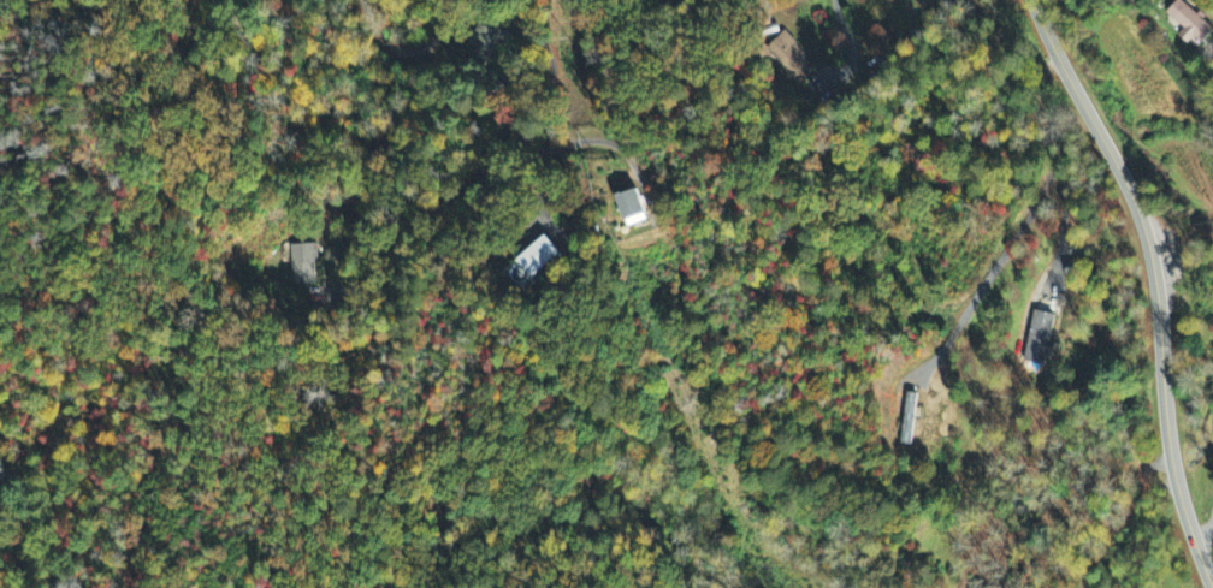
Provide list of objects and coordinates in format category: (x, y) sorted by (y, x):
building: (1189, 24)
building: (484, 37)
road: (406, 52)
building: (789, 59)
park: (215, 129)
road: (1045, 188)
building: (633, 209)
building: (537, 259)
building: (302, 265)
road: (1155, 283)
building: (1039, 339)
building: (909, 420)
road: (1207, 530)

